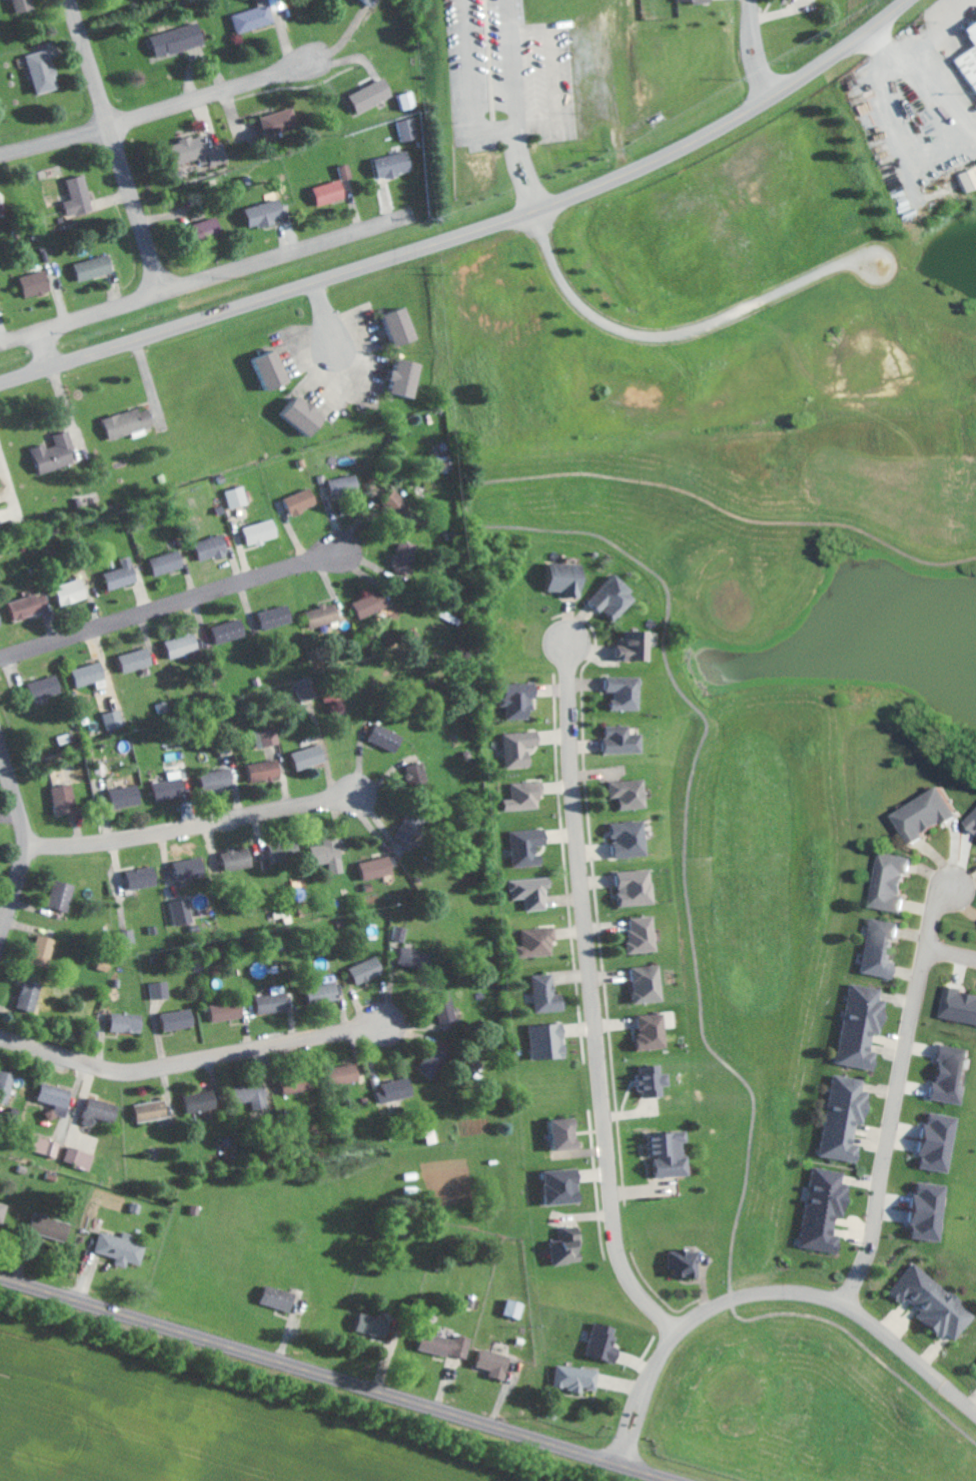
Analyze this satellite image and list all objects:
building: (375, 1)
building: (688, 2)
building: (26, 5)
road: (748, 10)
building: (255, 17)
road: (528, 31)
building: (180, 39)
road: (922, 44)
building: (968, 51)
road: (763, 56)
road: (751, 61)
road: (510, 63)
building: (44, 71)
road: (553, 77)
road: (468, 85)
building: (372, 95)
building: (408, 100)
road: (159, 109)
building: (279, 121)
road: (537, 125)
building: (408, 129)
road: (517, 139)
road: (121, 145)
building: (199, 152)
building: (395, 164)
road: (530, 170)
road: (518, 173)
building: (965, 178)
building: (332, 189)
building: (79, 197)
road: (534, 200)
building: (266, 213)
building: (210, 227)
road: (471, 232)
building: (95, 267)
road: (202, 280)
building: (37, 283)
road: (325, 318)
building: (405, 327)
road: (679, 332)
road: (44, 348)
building: (276, 370)
building: (410, 377)
building: (307, 414)
building: (129, 422)
building: (444, 450)
building: (57, 453)
building: (346, 485)
road: (10, 487)
building: (239, 497)
building: (302, 501)
building: (4, 516)
building: (263, 532)
building: (214, 548)
building: (406, 557)
building: (169, 562)
building: (124, 574)
building: (566, 577)
building: (73, 592)
building: (610, 598)
road: (168, 603)
building: (370, 604)
building: (31, 606)
building: (323, 615)
building: (277, 616)
building: (1, 620)
building: (231, 631)
building: (185, 645)
building: (634, 645)
building: (138, 660)
building: (91, 674)
building: (45, 688)
building: (308, 690)
building: (625, 692)
building: (520, 700)
building: (115, 720)
building: (268, 737)
building: (388, 738)
building: (623, 741)
building: (522, 749)
building: (311, 757)
building: (268, 770)
building: (414, 772)
building: (217, 779)
building: (171, 788)
building: (631, 793)
building: (127, 796)
building: (527, 797)
building: (66, 799)
building: (935, 806)
building: (910, 821)
building: (972, 821)
road: (188, 826)
building: (413, 829)
building: (632, 838)
road: (23, 845)
building: (528, 846)
building: (281, 852)
building: (331, 855)
building: (238, 859)
building: (891, 867)
building: (379, 868)
building: (190, 869)
building: (144, 878)
building: (639, 887)
building: (533, 893)
building: (63, 895)
building: (885, 895)
building: (182, 912)
building: (401, 933)
building: (879, 933)
building: (644, 934)
building: (128, 936)
building: (539, 942)
building: (45, 950)
road: (950, 953)
building: (411, 957)
building: (874, 962)
building: (368, 970)
building: (648, 985)
building: (160, 990)
building: (33, 993)
building: (548, 994)
building: (325, 995)
road: (593, 1001)
building: (861, 1001)
building: (274, 1003)
building: (954, 1005)
building: (228, 1011)
building: (972, 1011)
building: (447, 1012)
building: (179, 1020)
building: (129, 1023)
building: (855, 1026)
building: (653, 1032)
building: (549, 1041)
building: (850, 1055)
building: (435, 1059)
road: (191, 1060)
building: (947, 1060)
building: (348, 1074)
building: (652, 1081)
building: (7, 1082)
building: (296, 1086)
building: (942, 1088)
building: (396, 1090)
building: (843, 1092)
building: (255, 1097)
road: (897, 1097)
building: (58, 1100)
building: (203, 1101)
building: (153, 1110)
building: (101, 1112)
building: (838, 1117)
building: (935, 1128)
building: (567, 1134)
building: (47, 1146)
building: (833, 1146)
building: (670, 1154)
building: (930, 1155)
building: (81, 1158)
building: (827, 1183)
building: (564, 1186)
building: (923, 1195)
building: (821, 1208)
building: (4, 1212)
building: (919, 1223)
building: (51, 1228)
building: (816, 1237)
building: (568, 1247)
building: (122, 1248)
building: (678, 1263)
building: (908, 1284)
road: (766, 1292)
building: (281, 1298)
building: (930, 1303)
building: (509, 1308)
building: (949, 1319)
building: (366, 1324)
building: (596, 1342)
building: (440, 1344)
building: (487, 1362)
building: (974, 1367)
building: (570, 1377)
road: (331, 1381)

